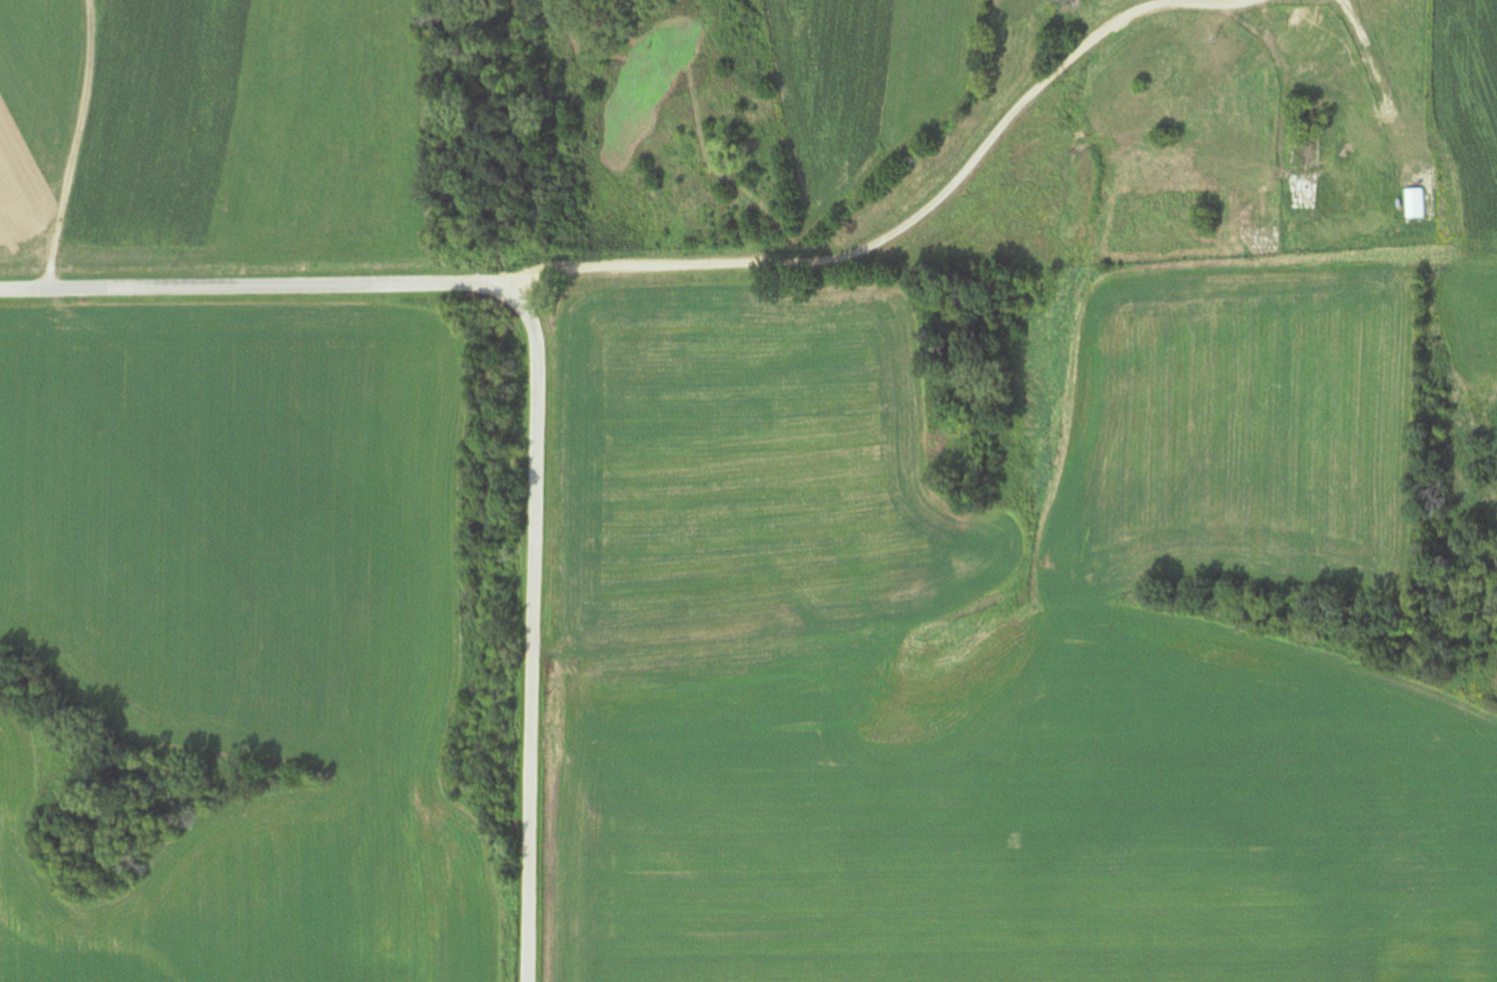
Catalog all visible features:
building: (1416, 203)
road: (826, 233)
road: (541, 376)

